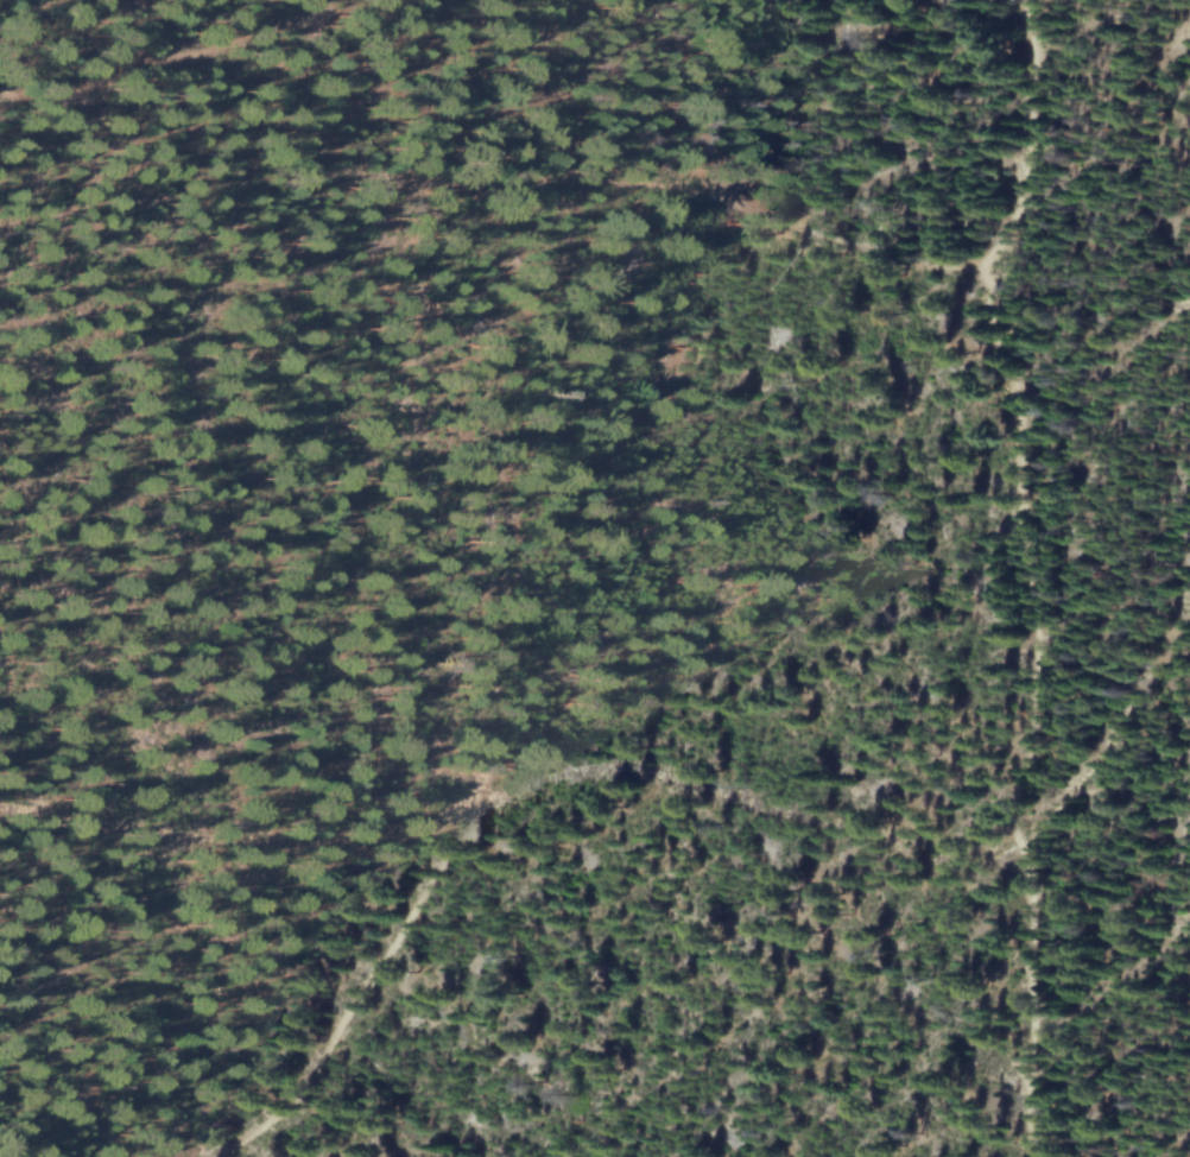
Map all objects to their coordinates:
road: (163, 61)
road: (1023, 577)
road: (519, 789)
road: (367, 987)

